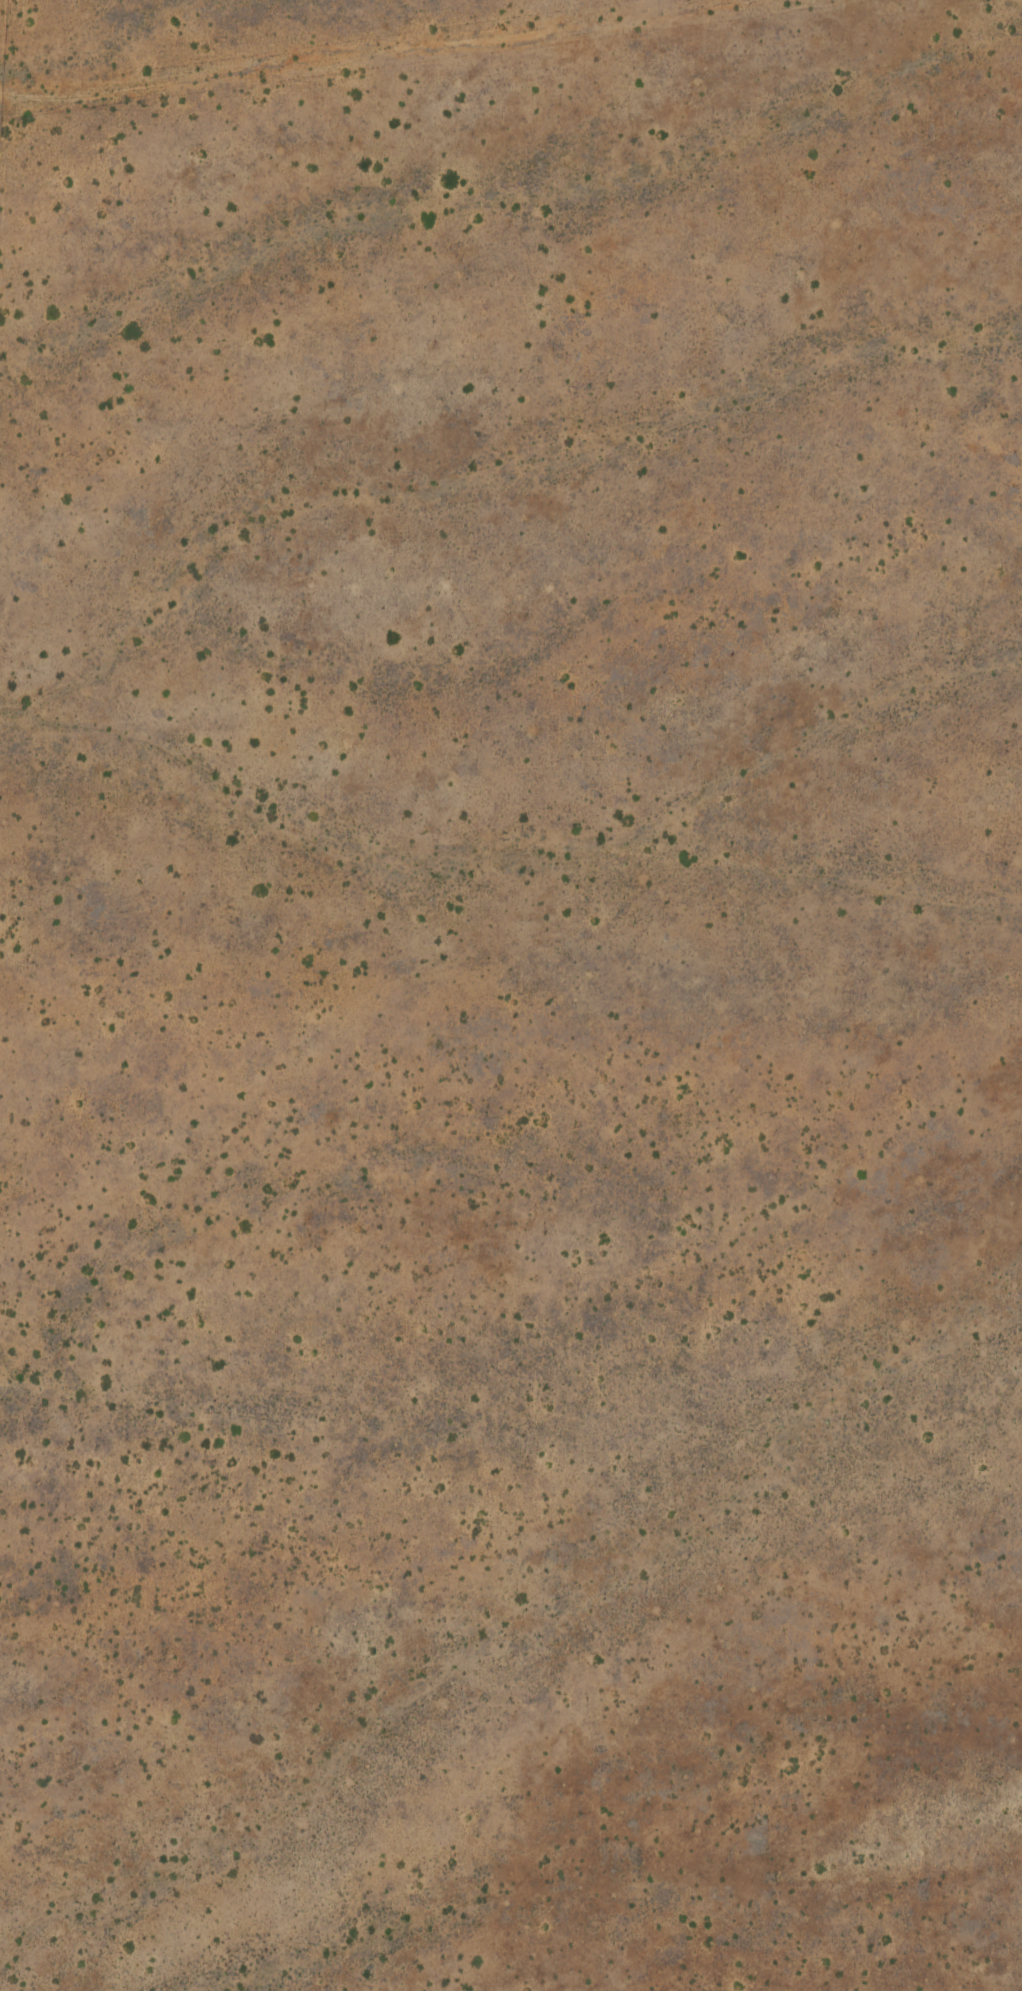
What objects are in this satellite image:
road: (664, 8)

